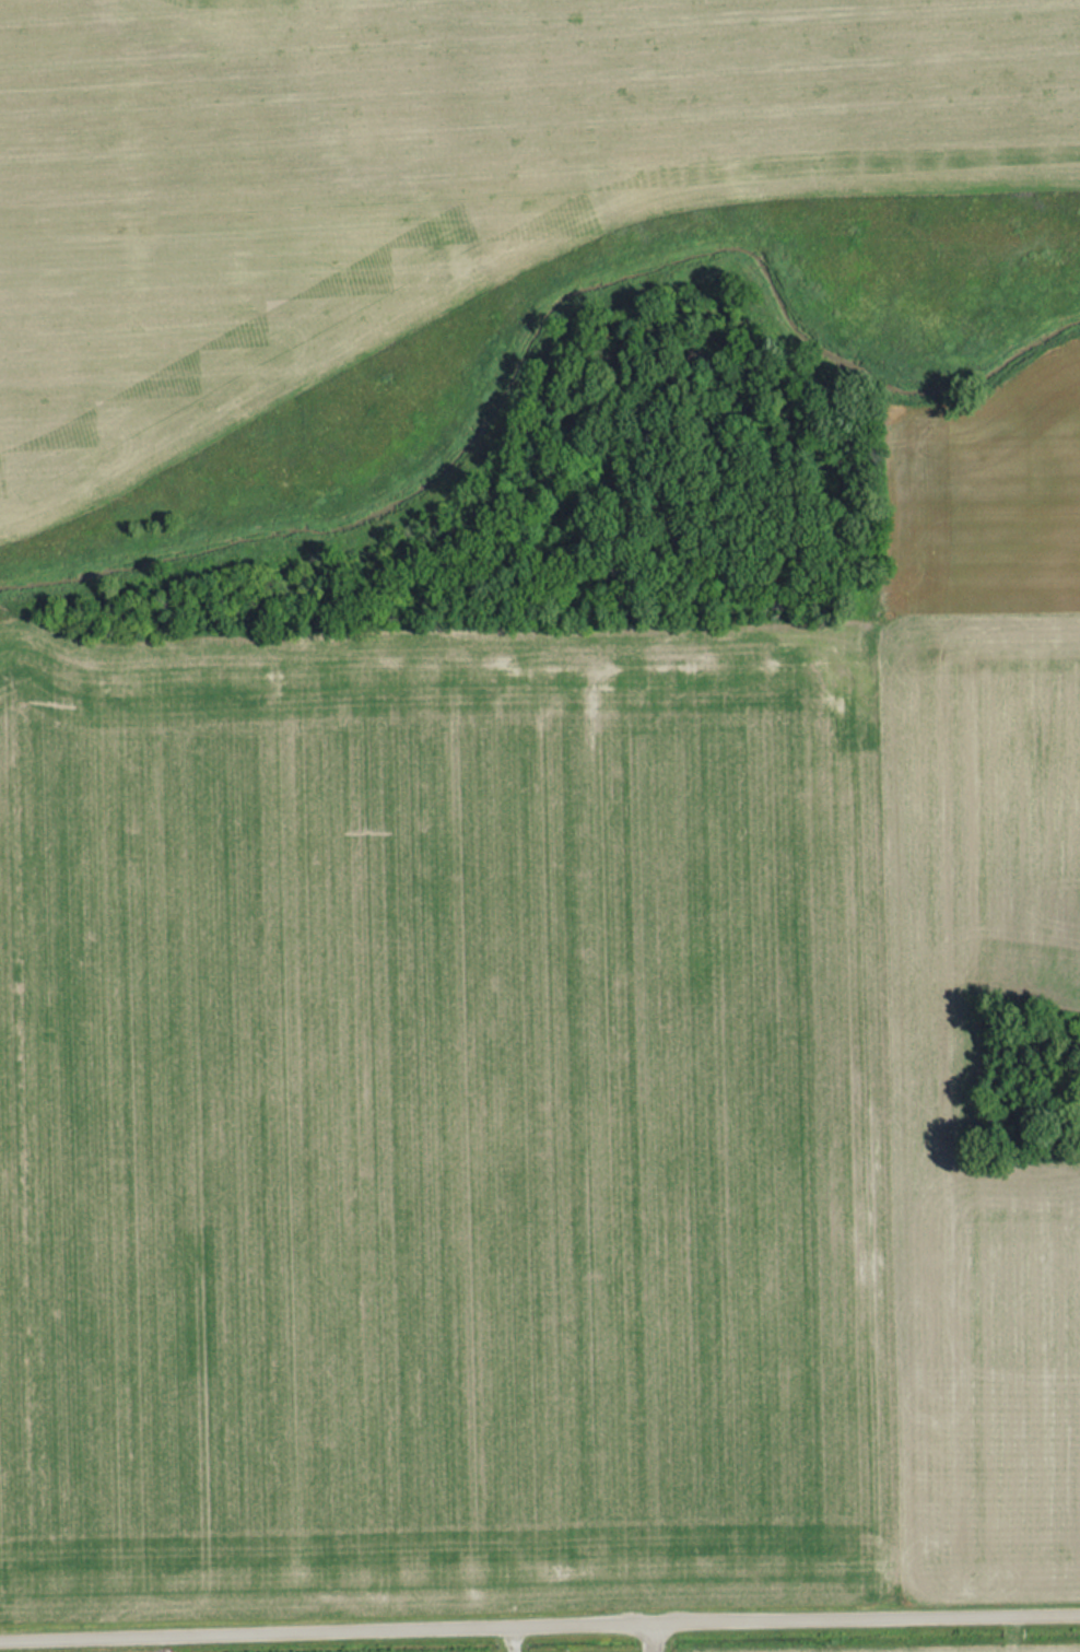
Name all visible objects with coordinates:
crop: (426, 177)
crop: (979, 503)
crop: (978, 793)
crop: (926, 1066)
crop: (437, 1130)
crop: (985, 1379)
road: (539, 1625)
road: (650, 1637)
road: (513, 1639)

